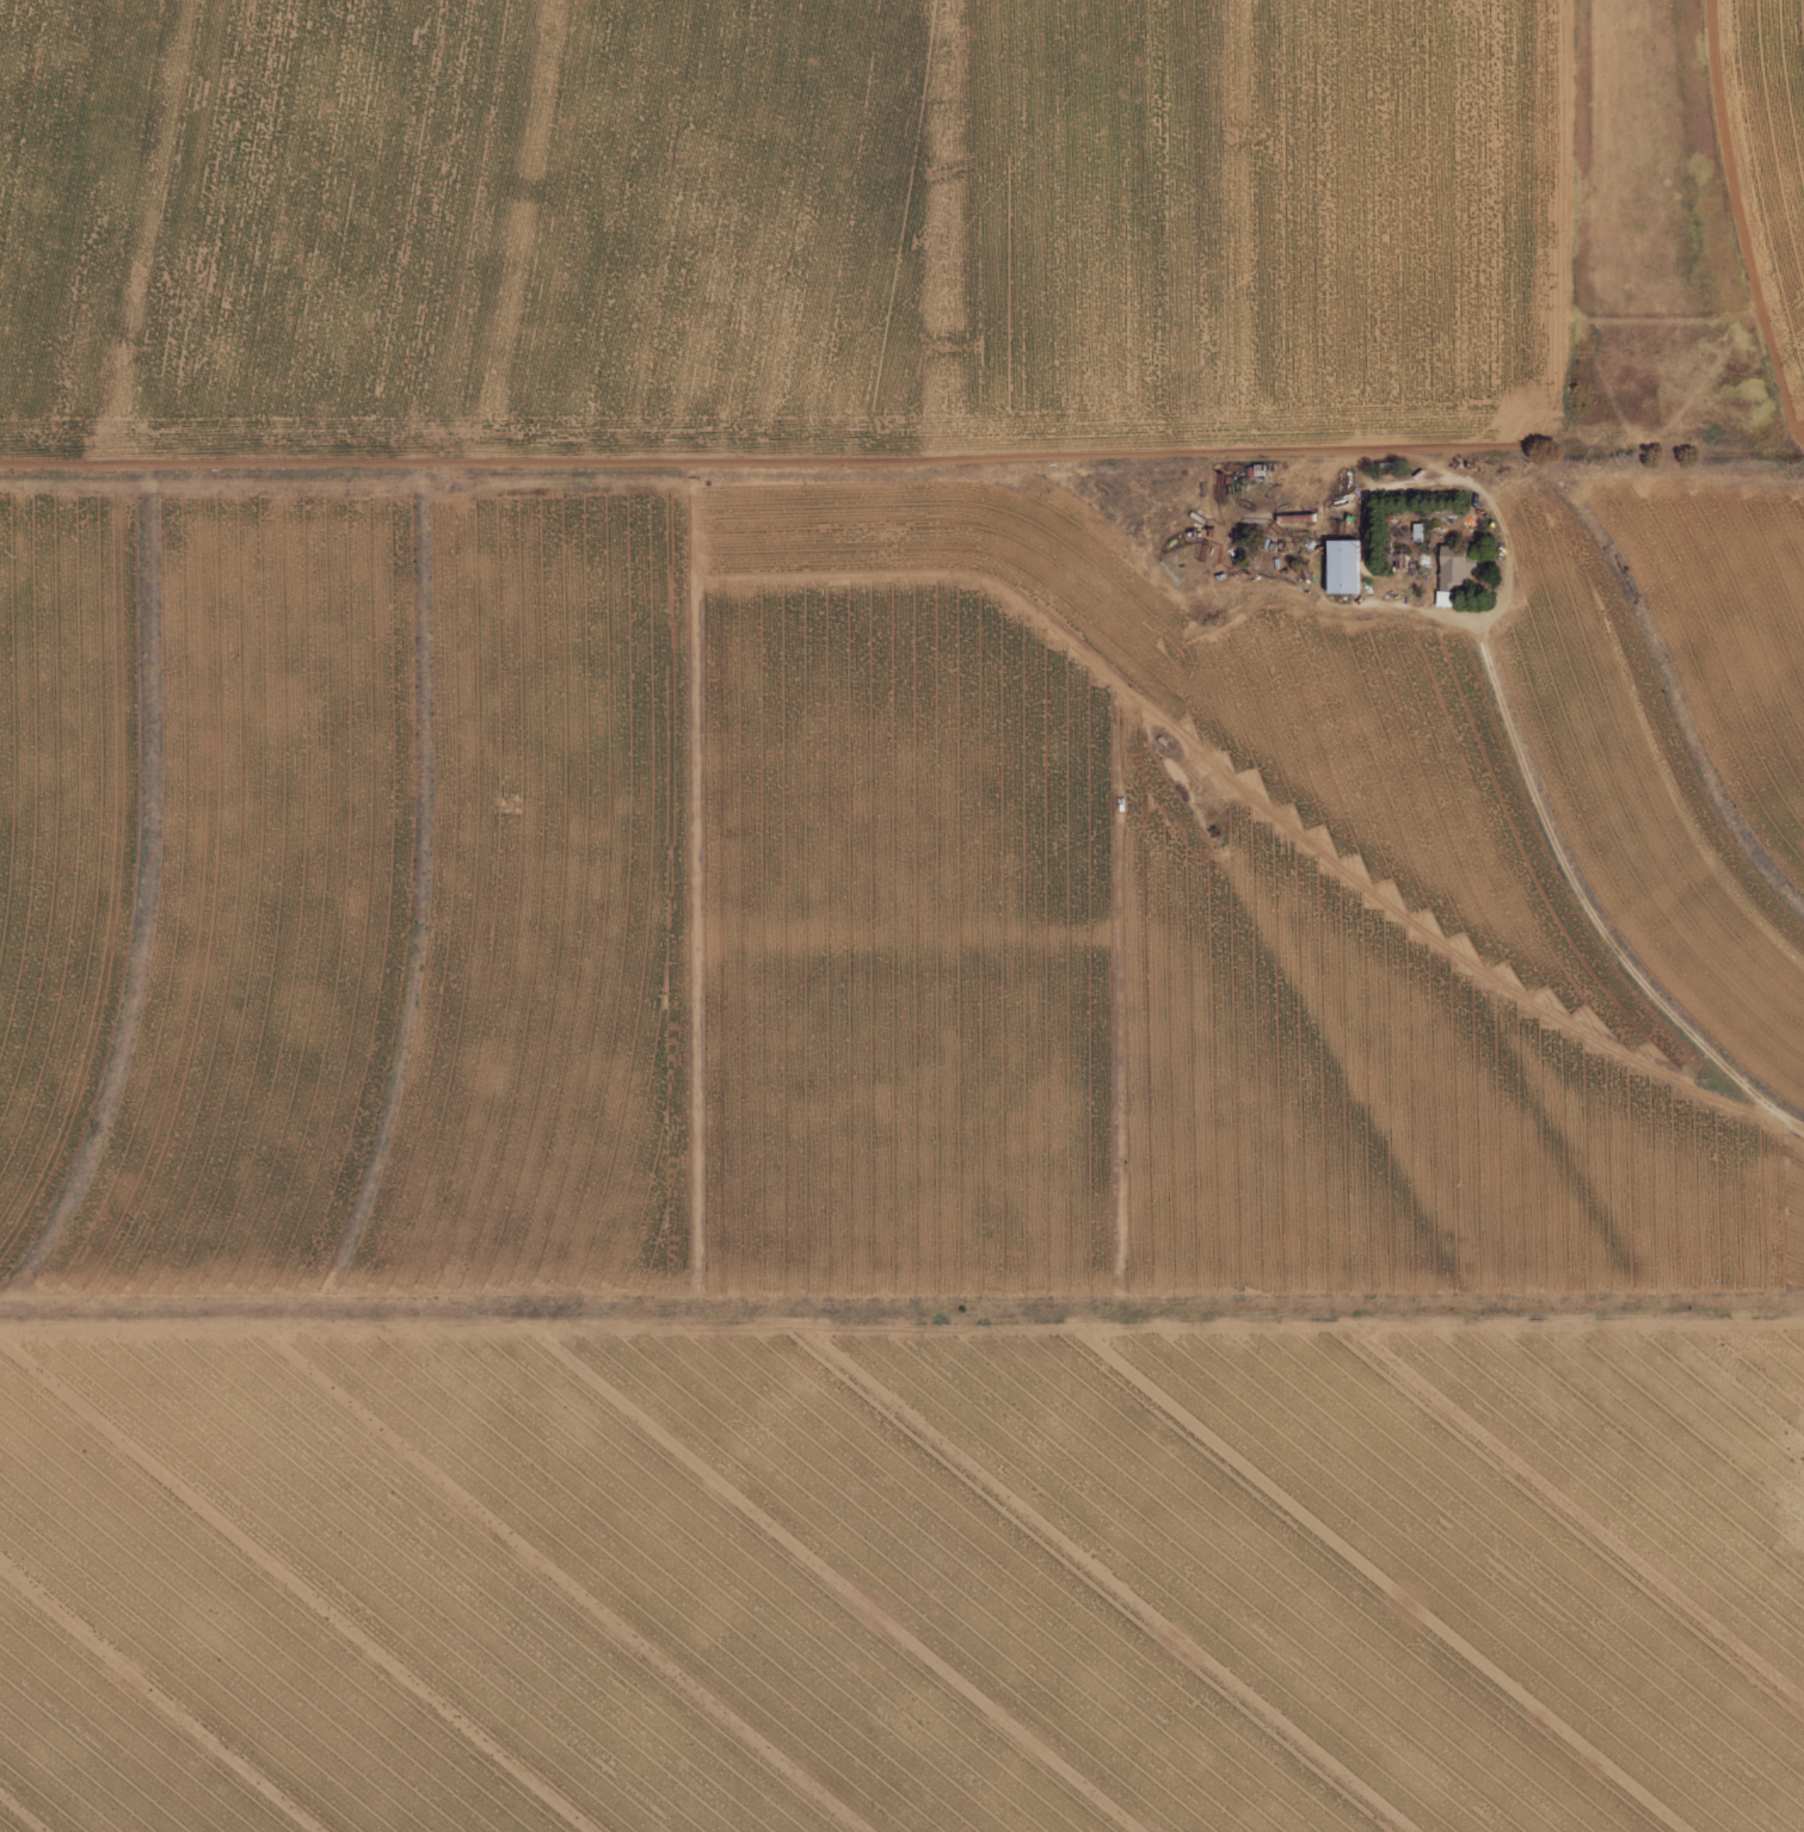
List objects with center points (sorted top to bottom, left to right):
building: (1340, 567)
road: (1535, 790)

